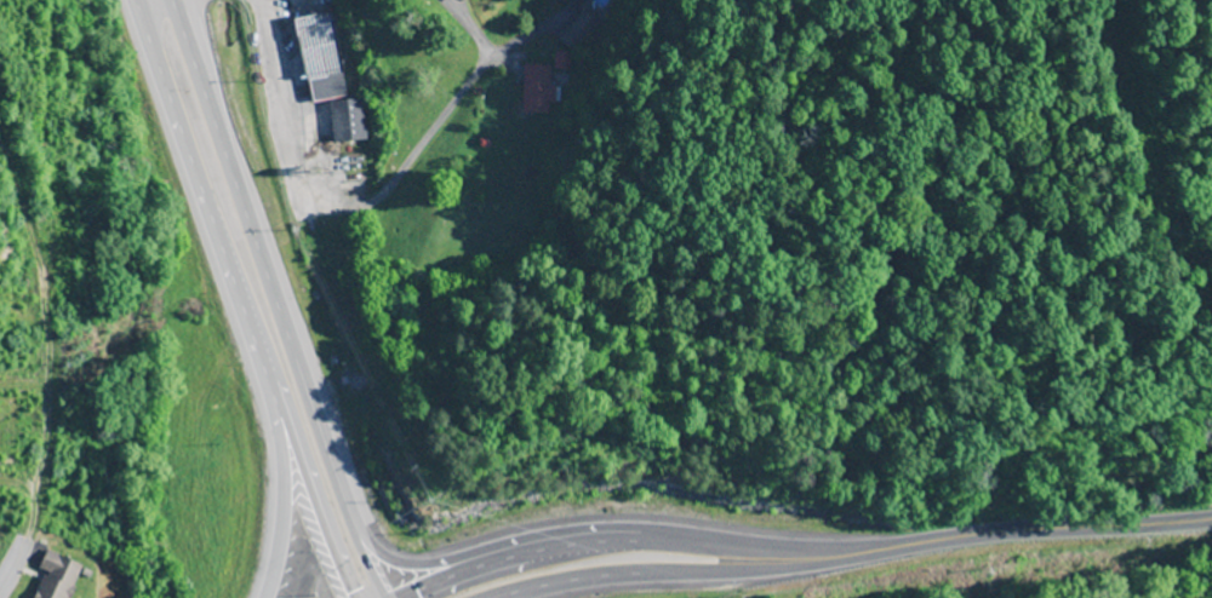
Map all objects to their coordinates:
building: (582, 1)
building: (321, 58)
building: (561, 62)
building: (537, 90)
building: (348, 121)
road: (290, 149)
road: (248, 154)
road: (440, 206)
road: (258, 300)
road: (278, 488)
road: (1052, 539)
road: (376, 560)
road: (682, 569)
building: (55, 577)
road: (493, 593)

